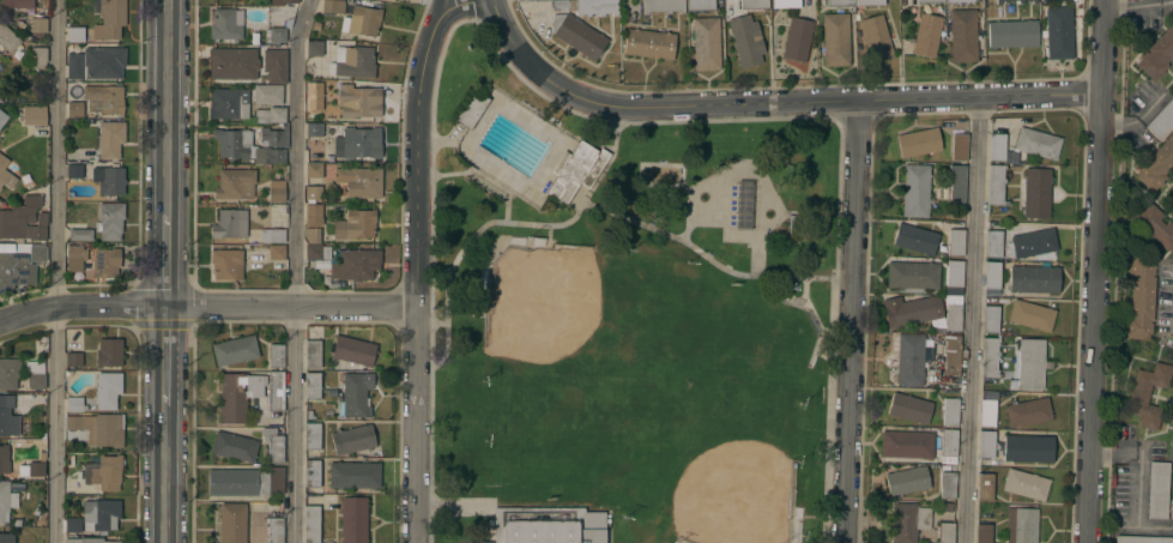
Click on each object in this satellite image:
building: (387, 0)
building: (1053, 0)
building: (288, 1)
building: (927, 1)
building: (957, 1)
building: (1033, 1)
building: (840, 2)
building: (867, 2)
building: (997, 2)
building: (16, 4)
building: (752, 4)
building: (785, 4)
building: (700, 5)
road: (1138, 5)
building: (332, 6)
building: (586, 6)
building: (663, 6)
road: (436, 12)
building: (109, 18)
building: (362, 20)
building: (226, 24)
building: (38, 25)
building: (1059, 32)
building: (1012, 34)
building: (75, 35)
building: (277, 35)
building: (578, 35)
building: (926, 35)
building: (962, 36)
building: (876, 37)
building: (7, 38)
building: (798, 40)
building: (835, 40)
building: (744, 41)
building: (706, 43)
building: (649, 44)
building: (314, 48)
building: (1157, 55)
building: (38, 58)
building: (103, 62)
building: (352, 62)
building: (232, 64)
building: (74, 66)
building: (276, 66)
building: (1172, 86)
building: (313, 93)
building: (267, 95)
building: (103, 99)
building: (358, 102)
building: (228, 103)
road: (772, 103)
road: (164, 108)
building: (74, 109)
building: (471, 110)
building: (34, 115)
building: (270, 115)
building: (2, 119)
building: (1161, 120)
building: (314, 129)
building: (274, 137)
building: (110, 139)
building: (361, 143)
building: (919, 143)
building: (1036, 143)
building: (235, 145)
building: (959, 147)
building: (997, 147)
building: (273, 155)
building: (1156, 165)
building: (313, 170)
building: (74, 171)
building: (575, 171)
building: (6, 175)
building: (109, 180)
building: (359, 182)
building: (235, 183)
building: (957, 185)
building: (996, 186)
building: (0, 188)
building: (915, 191)
building: (276, 192)
building: (313, 193)
building: (1036, 193)
building: (1169, 199)
building: (743, 207)
building: (313, 215)
building: (24, 221)
building: (110, 221)
building: (229, 224)
building: (355, 225)
building: (1155, 225)
building: (80, 235)
building: (312, 235)
building: (271, 236)
building: (915, 239)
building: (955, 242)
building: (992, 243)
building: (1034, 243)
building: (276, 252)
building: (316, 252)
road: (416, 257)
building: (74, 258)
road: (163, 261)
building: (105, 263)
building: (19, 264)
building: (226, 265)
building: (355, 265)
road: (294, 270)
road: (59, 271)
road: (1095, 271)
building: (954, 273)
building: (912, 274)
building: (992, 274)
building: (1034, 279)
building: (1139, 298)
park: (540, 300)
road: (206, 306)
building: (911, 310)
building: (1030, 315)
building: (953, 318)
park: (625, 319)
building: (990, 319)
road: (972, 320)
road: (849, 322)
park: (696, 346)
building: (235, 350)
building: (352, 350)
building: (108, 352)
building: (313, 354)
building: (951, 355)
road: (162, 356)
building: (276, 356)
building: (988, 357)
building: (73, 360)
building: (909, 360)
building: (1030, 363)
building: (8, 374)
building: (35, 375)
building: (312, 386)
building: (107, 391)
building: (274, 391)
building: (1147, 394)
building: (353, 397)
building: (232, 398)
building: (73, 404)
building: (909, 409)
building: (950, 412)
building: (1028, 412)
building: (987, 414)
building: (259, 416)
building: (7, 417)
building: (98, 429)
building: (312, 436)
building: (352, 440)
building: (948, 442)
building: (272, 444)
building: (986, 444)
building: (907, 445)
building: (234, 447)
building: (1028, 448)
building: (1171, 450)
building: (5, 460)
building: (32, 467)
building: (104, 473)
building: (312, 473)
road: (161, 475)
building: (353, 475)
building: (906, 481)
road: (1141, 481)
building: (246, 482)
building: (1026, 484)
building: (947, 485)
building: (984, 487)
building: (1157, 490)
building: (6, 499)
building: (1172, 512)
building: (101, 514)
building: (352, 519)
building: (908, 521)
building: (232, 523)
building: (312, 524)
building: (72, 525)
building: (548, 525)
building: (1021, 525)
building: (274, 530)
building: (945, 532)
building: (982, 533)
building: (7, 537)
building: (1142, 539)
building: (87, 541)

